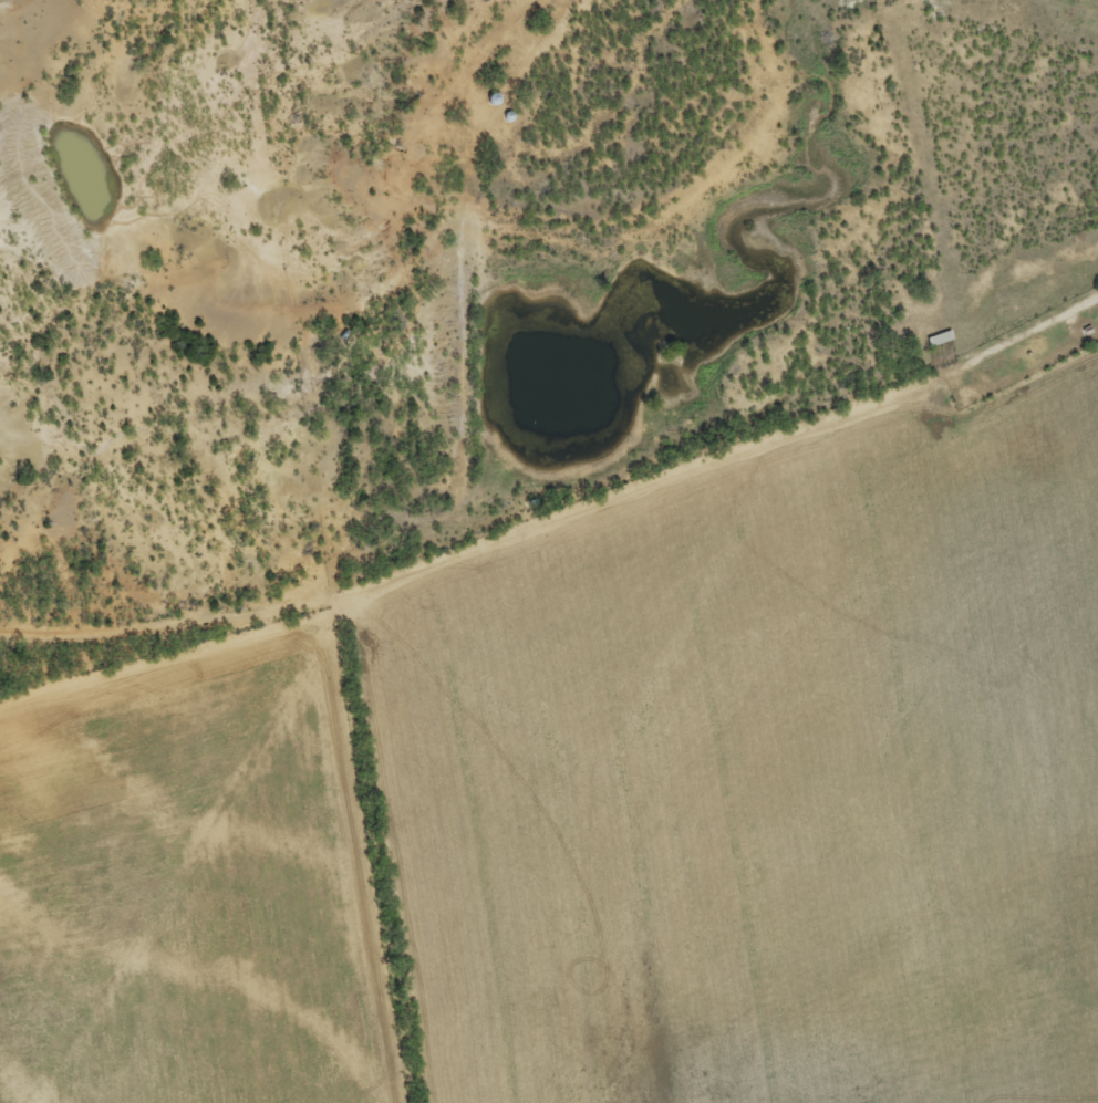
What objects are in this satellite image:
building: (938, 339)
road: (570, 556)

